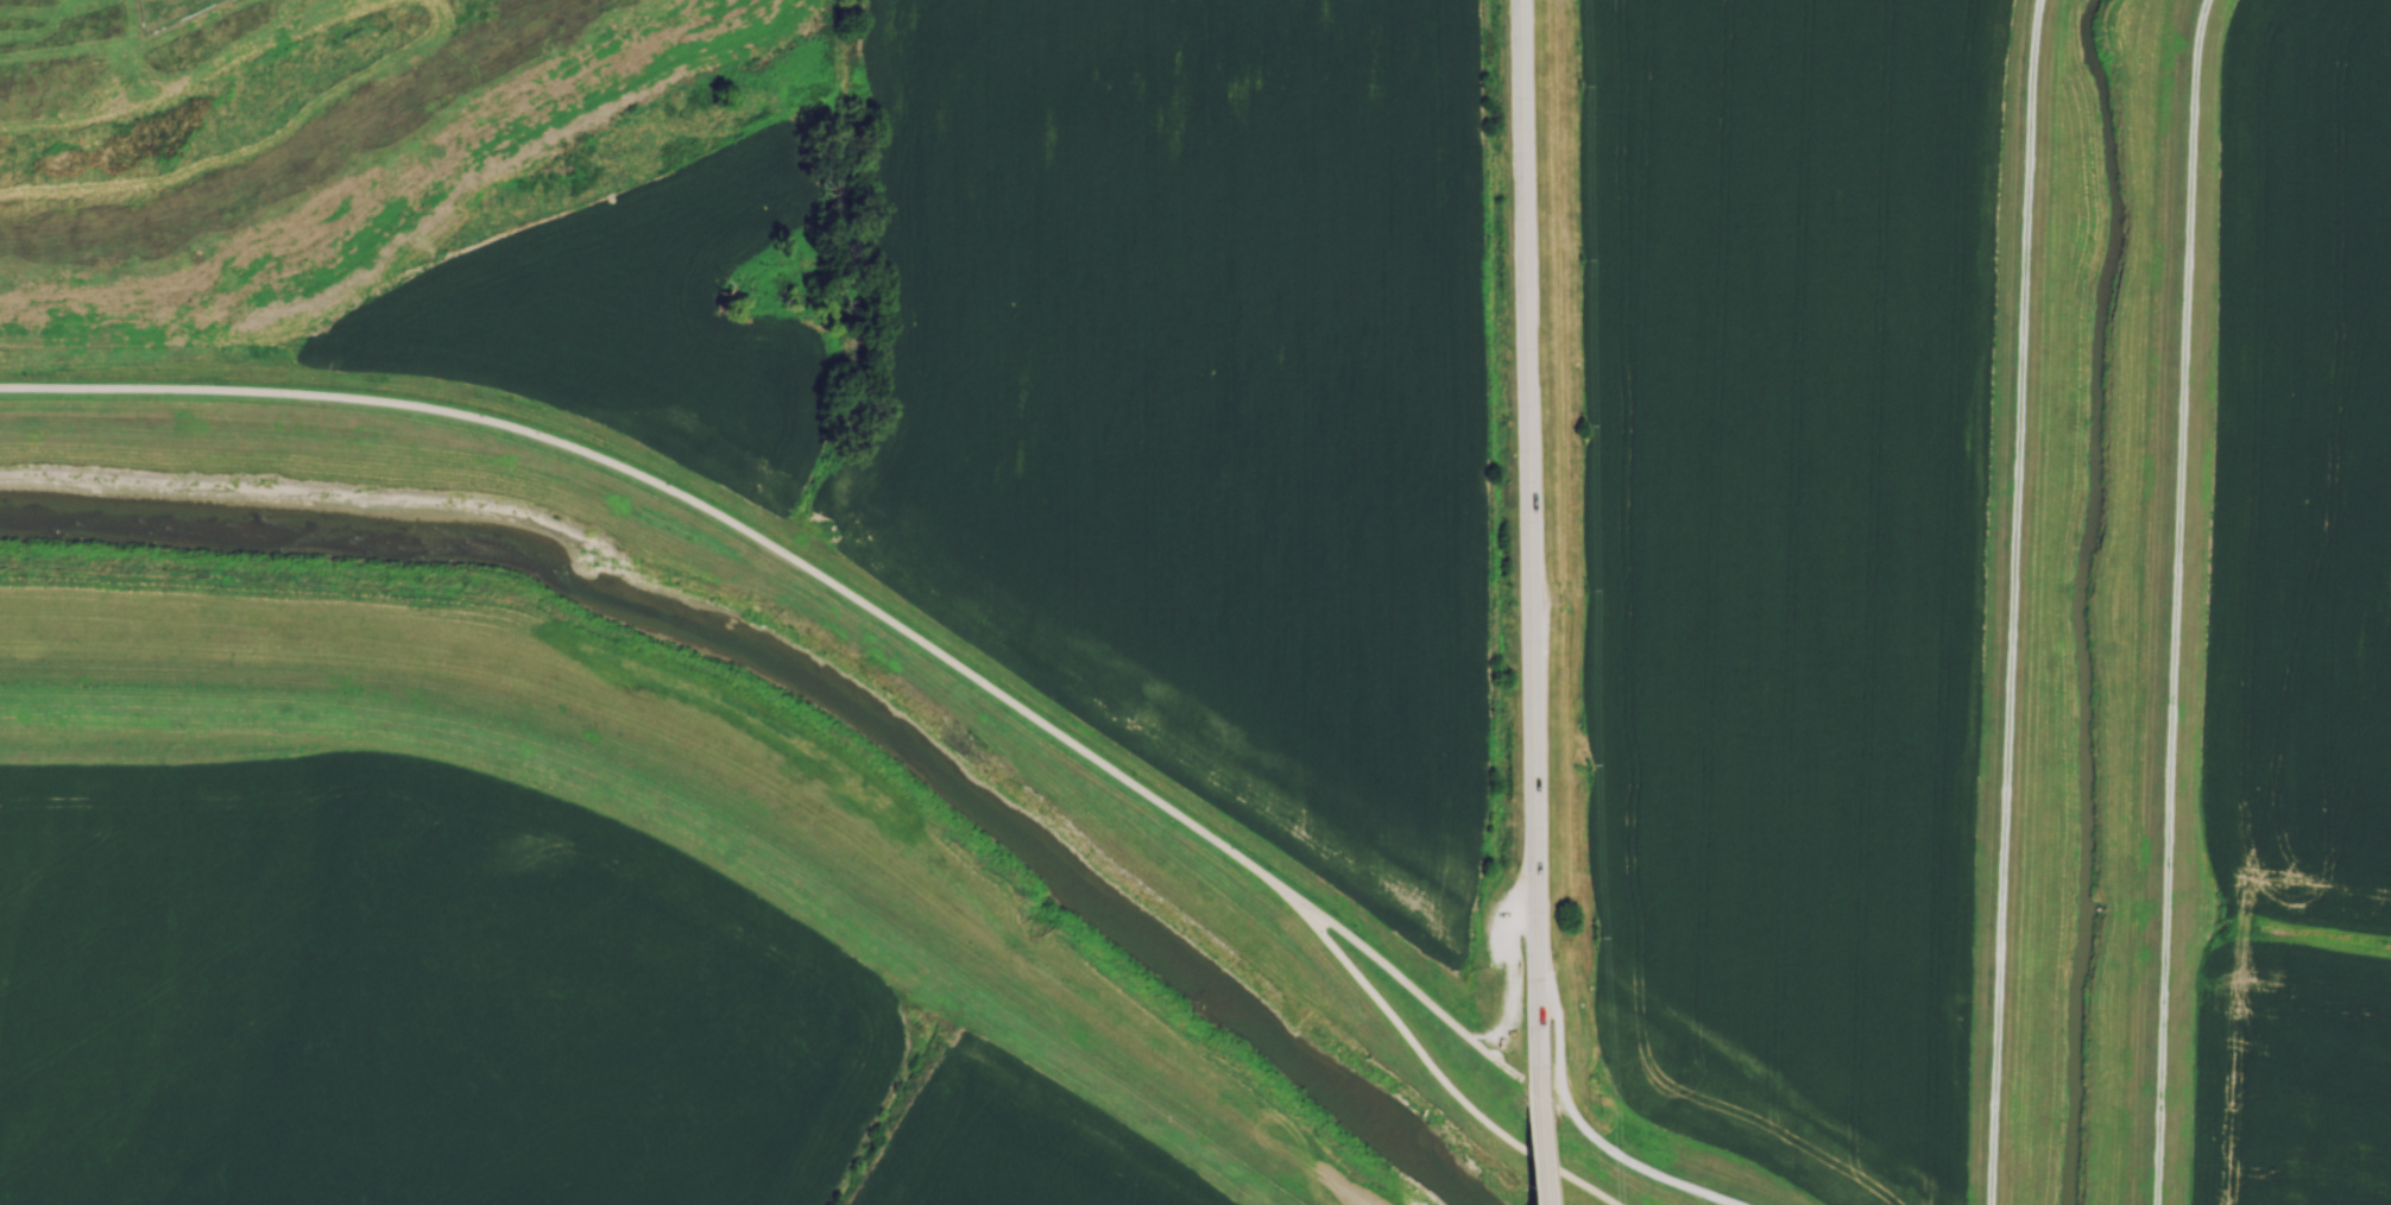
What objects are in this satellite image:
road: (690, 503)
road: (1527, 545)
crop: (1790, 564)
road: (2013, 601)
road: (2175, 601)
crop: (2299, 624)
river: (814, 677)
road: (504, 733)
road: (1508, 971)
road: (1402, 982)
road: (1431, 1068)
road: (1122, 1089)
road: (1584, 1131)
road: (1535, 1149)

